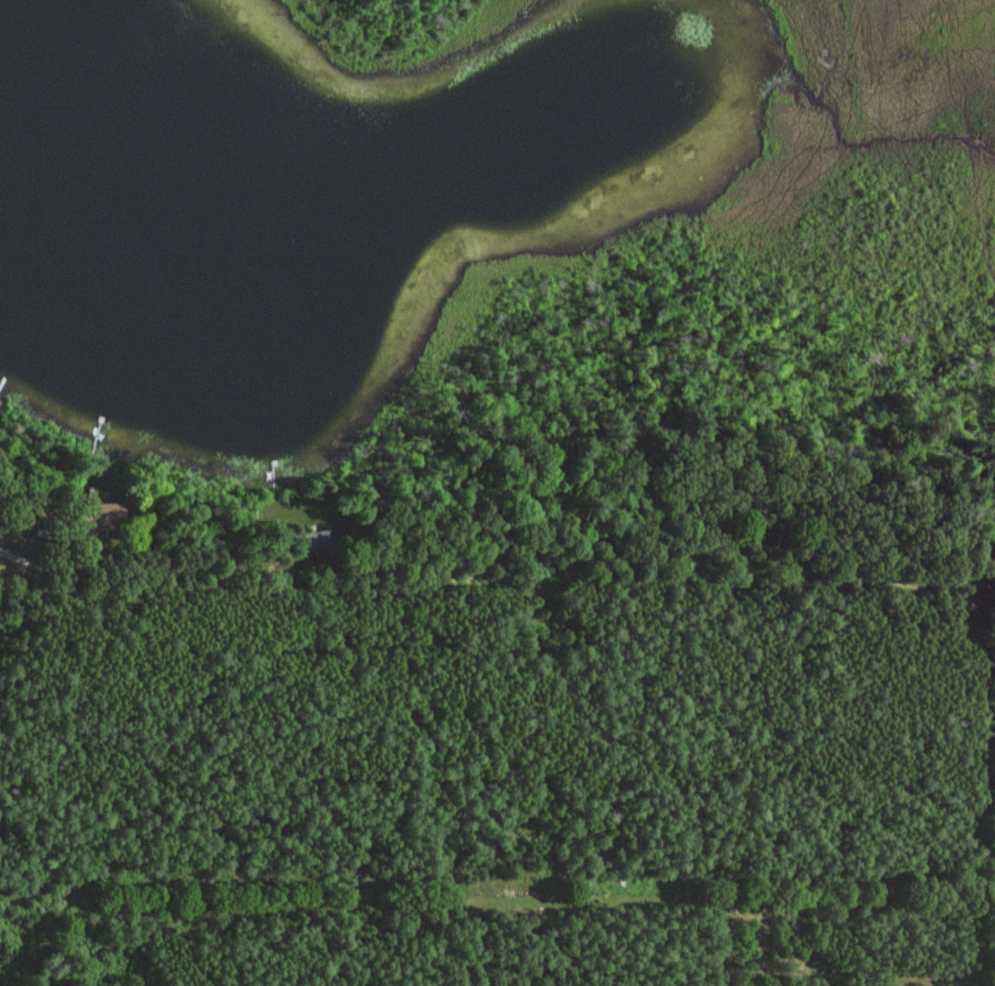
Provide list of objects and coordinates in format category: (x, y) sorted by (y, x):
building: (107, 517)
building: (319, 541)

